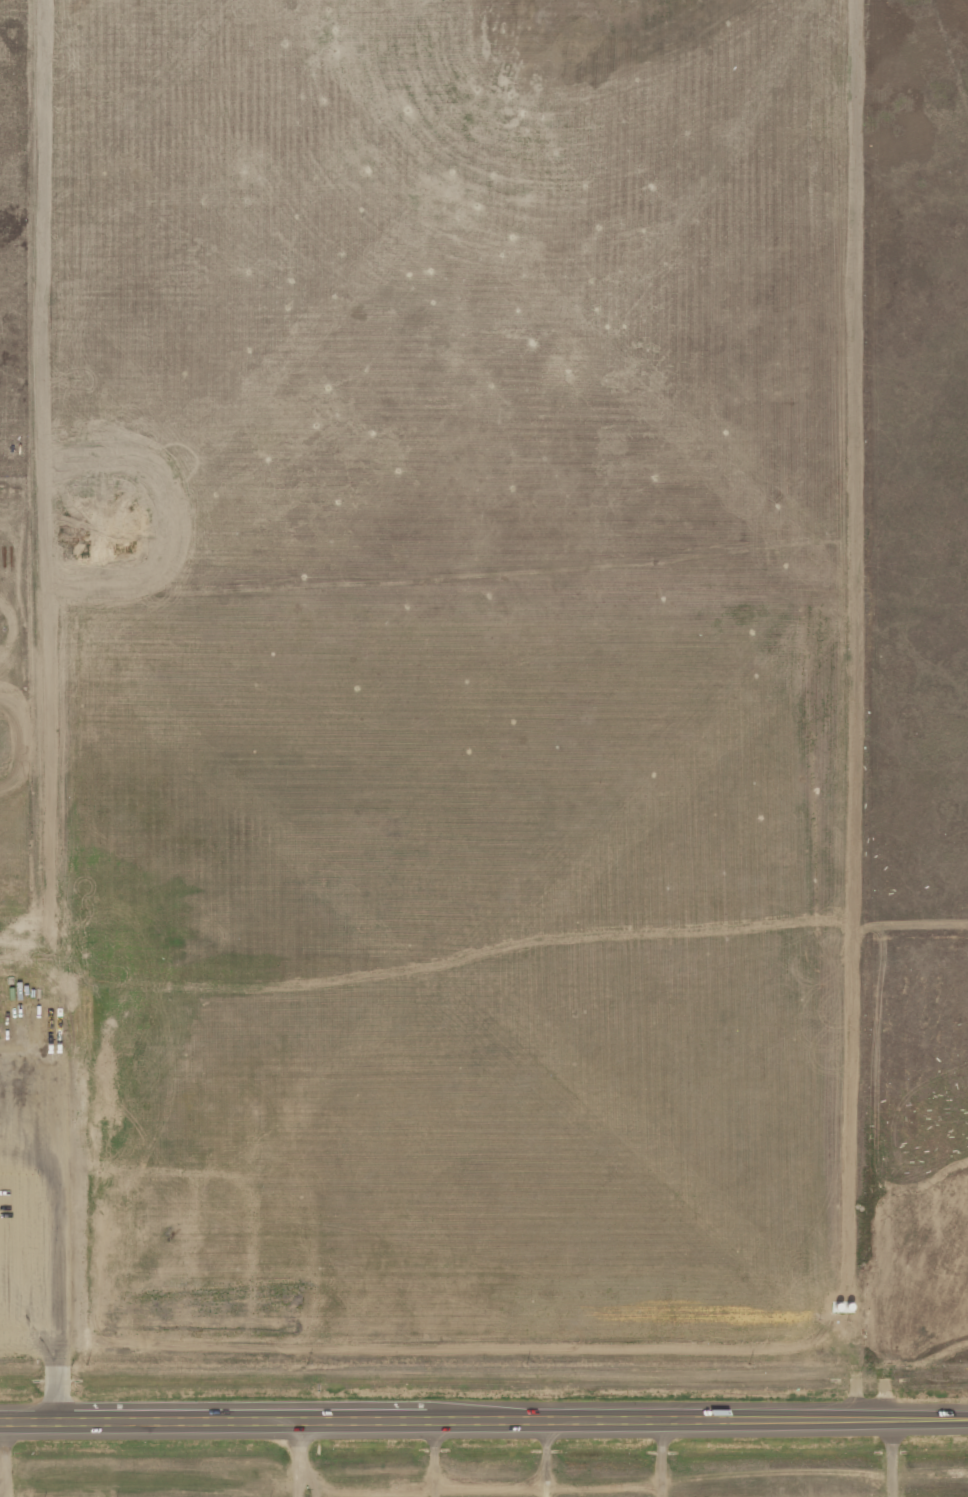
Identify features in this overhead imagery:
road: (483, 1421)

